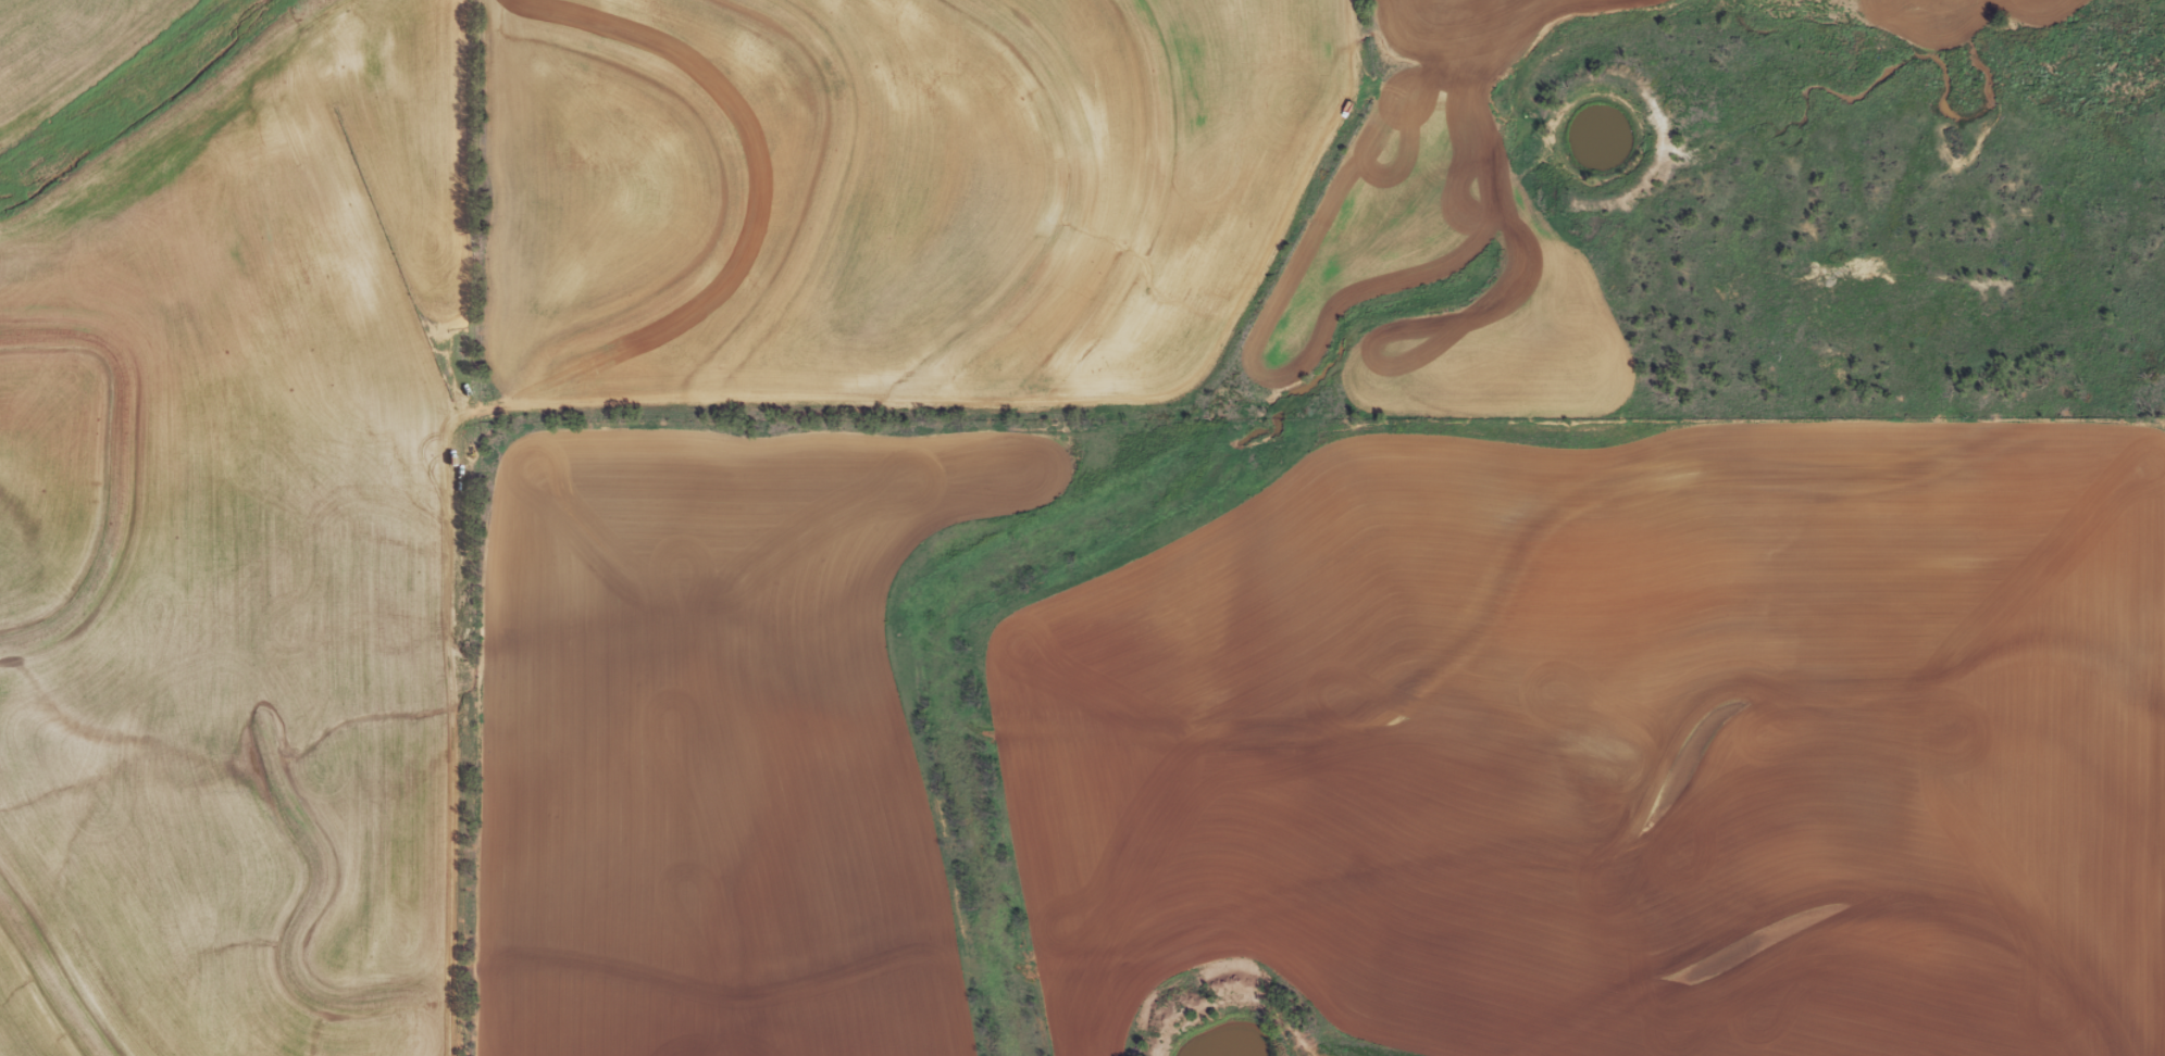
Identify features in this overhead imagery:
road: (794, 417)

